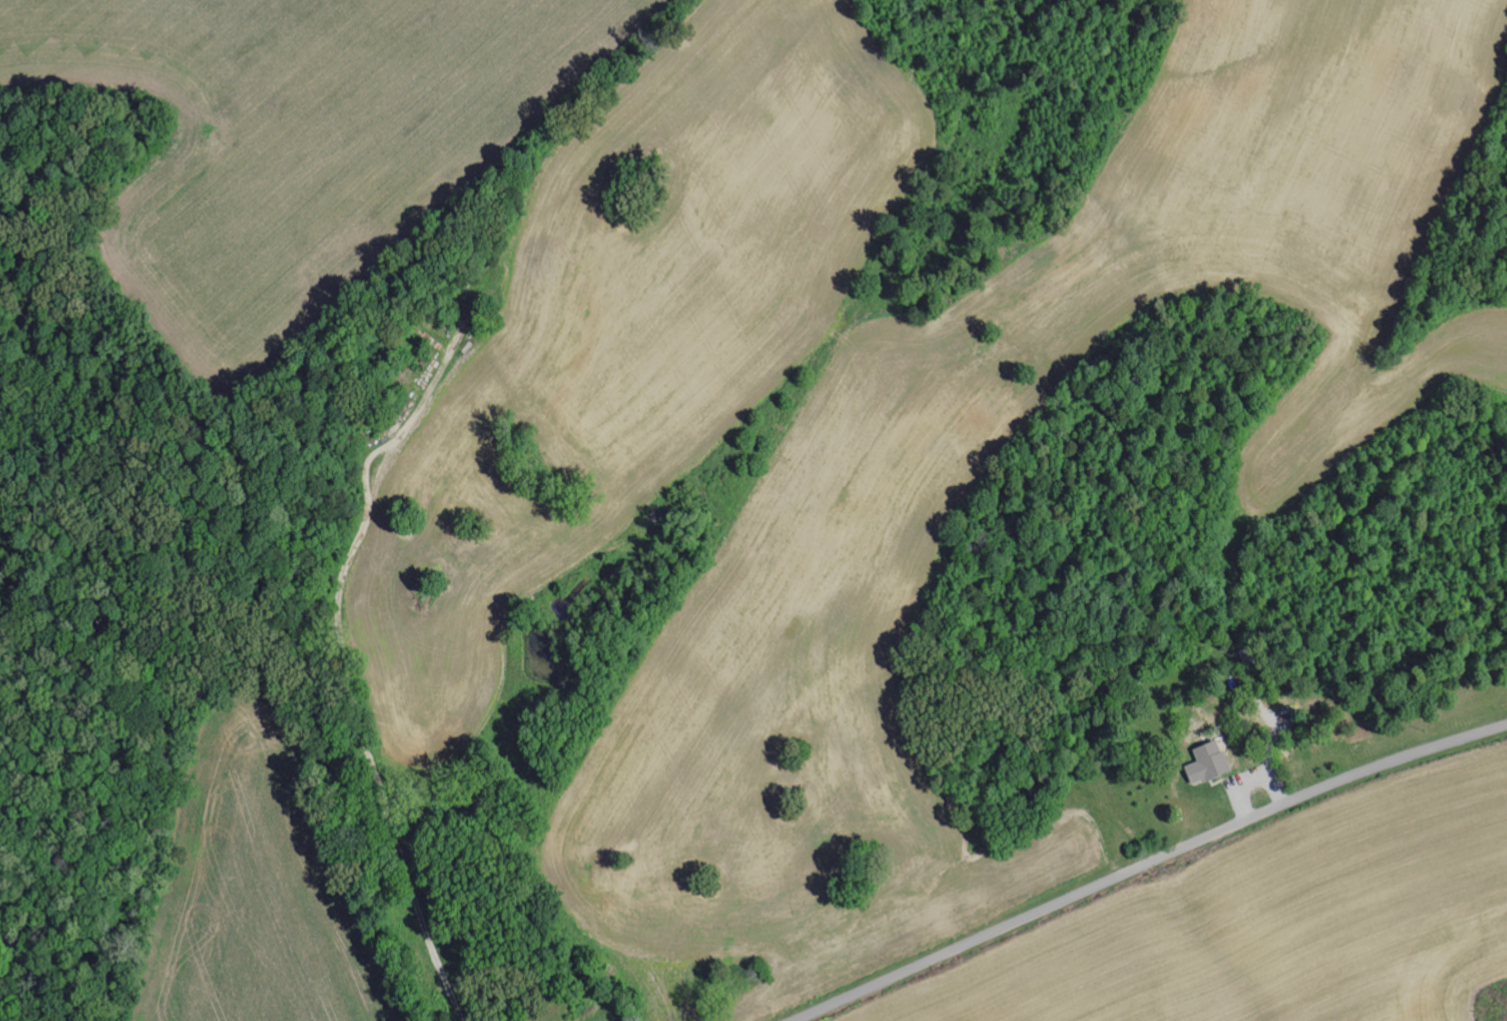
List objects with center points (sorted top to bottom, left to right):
building: (1209, 763)
road: (1146, 865)

